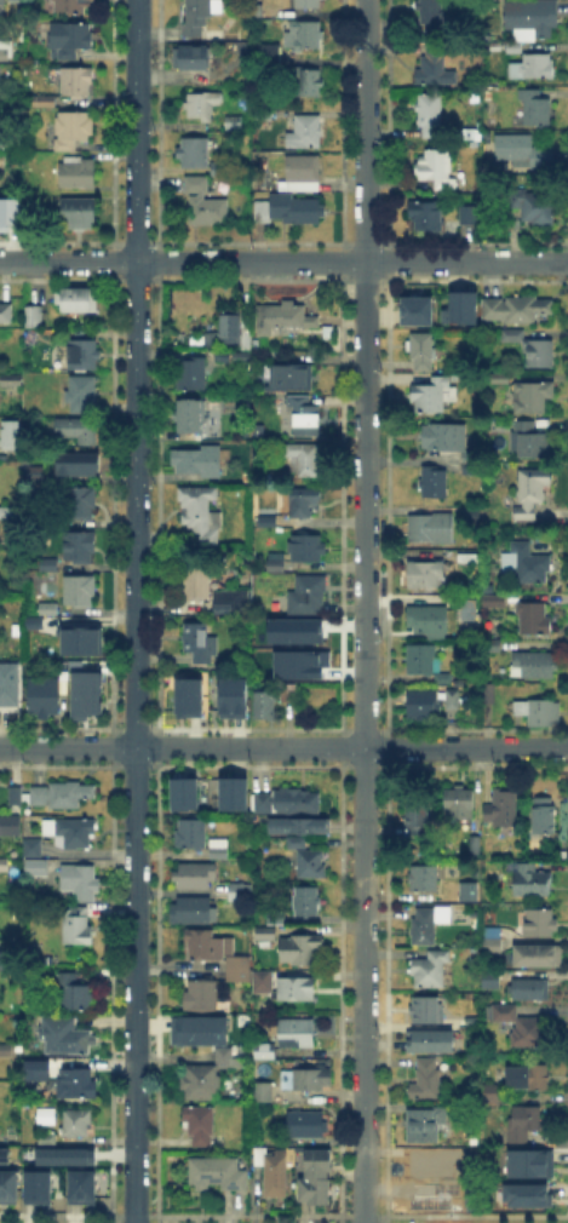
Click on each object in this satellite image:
building: (308, 4)
building: (470, 4)
building: (73, 6)
building: (2, 7)
building: (256, 10)
building: (200, 13)
building: (431, 16)
building: (532, 19)
building: (492, 23)
building: (216, 35)
building: (305, 36)
building: (69, 41)
building: (514, 48)
building: (4, 54)
building: (191, 57)
building: (269, 58)
building: (434, 68)
building: (533, 68)
building: (76, 84)
building: (310, 84)
building: (44, 103)
building: (200, 104)
building: (534, 108)
building: (431, 116)
building: (75, 127)
building: (305, 132)
building: (4, 144)
building: (523, 151)
building: (200, 155)
building: (432, 166)
building: (78, 173)
building: (303, 173)
building: (447, 185)
building: (532, 205)
building: (206, 206)
building: (291, 209)
building: (78, 213)
building: (428, 214)
building: (470, 214)
building: (7, 217)
road: (283, 262)
building: (76, 300)
building: (464, 306)
building: (418, 309)
building: (518, 309)
building: (6, 314)
building: (30, 317)
building: (282, 320)
building: (229, 326)
building: (534, 350)
building: (423, 351)
building: (84, 356)
building: (241, 357)
building: (191, 374)
building: (291, 378)
building: (501, 378)
building: (8, 379)
building: (82, 394)
building: (434, 395)
building: (533, 398)
building: (243, 407)
building: (190, 417)
building: (304, 417)
building: (79, 430)
building: (7, 431)
building: (446, 438)
building: (529, 441)
building: (4, 455)
building: (197, 460)
building: (304, 460)
building: (79, 467)
building: (472, 467)
building: (34, 476)
building: (280, 481)
building: (435, 483)
building: (529, 495)
building: (80, 504)
building: (302, 504)
building: (10, 512)
building: (199, 513)
building: (431, 529)
building: (80, 549)
building: (308, 550)
building: (470, 558)
building: (524, 562)
building: (277, 564)
building: (50, 565)
building: (424, 574)
building: (197, 584)
building: (80, 591)
building: (303, 592)
building: (495, 599)
building: (228, 602)
building: (48, 608)
building: (471, 608)
road: (133, 610)
road: (361, 610)
building: (529, 616)
building: (428, 621)
building: (33, 622)
building: (292, 628)
building: (79, 641)
building: (200, 644)
building: (493, 645)
building: (421, 659)
building: (294, 662)
building: (534, 666)
building: (443, 679)
building: (7, 683)
building: (82, 691)
building: (289, 693)
building: (489, 694)
building: (185, 696)
building: (230, 696)
building: (45, 699)
building: (454, 699)
building: (264, 704)
building: (424, 705)
building: (538, 713)
road: (283, 746)
building: (182, 792)
building: (11, 793)
building: (234, 794)
building: (63, 796)
building: (460, 803)
building: (286, 804)
building: (503, 808)
building: (544, 816)
building: (417, 821)
building: (11, 826)
building: (296, 832)
building: (74, 833)
building: (191, 836)
building: (28, 845)
building: (219, 848)
building: (36, 859)
building: (311, 863)
building: (4, 866)
building: (195, 877)
building: (425, 878)
building: (533, 882)
building: (80, 883)
building: (237, 894)
building: (451, 894)
building: (306, 901)
building: (194, 912)
building: (277, 919)
building: (541, 924)
building: (78, 926)
building: (424, 926)
building: (265, 932)
building: (484, 946)
building: (208, 947)
building: (300, 951)
building: (539, 958)
building: (5, 961)
building: (430, 970)
building: (240, 972)
building: (490, 981)
building: (264, 982)
building: (297, 988)
building: (71, 991)
building: (528, 991)
building: (201, 997)
building: (429, 1012)
building: (520, 1027)
building: (199, 1033)
building: (297, 1034)
building: (65, 1037)
building: (429, 1045)
building: (7, 1049)
building: (265, 1052)
building: (225, 1058)
building: (33, 1067)
building: (529, 1078)
building: (312, 1079)
building: (426, 1080)
building: (200, 1083)
building: (78, 1086)
building: (263, 1091)
building: (487, 1095)
building: (73, 1121)
building: (425, 1124)
building: (306, 1125)
building: (521, 1125)
building: (200, 1126)
building: (42, 1137)
building: (2, 1154)
building: (62, 1154)
building: (528, 1162)
building: (428, 1169)
building: (218, 1173)
building: (274, 1173)
building: (316, 1179)
building: (7, 1185)
building: (35, 1185)
building: (79, 1185)
building: (530, 1195)

